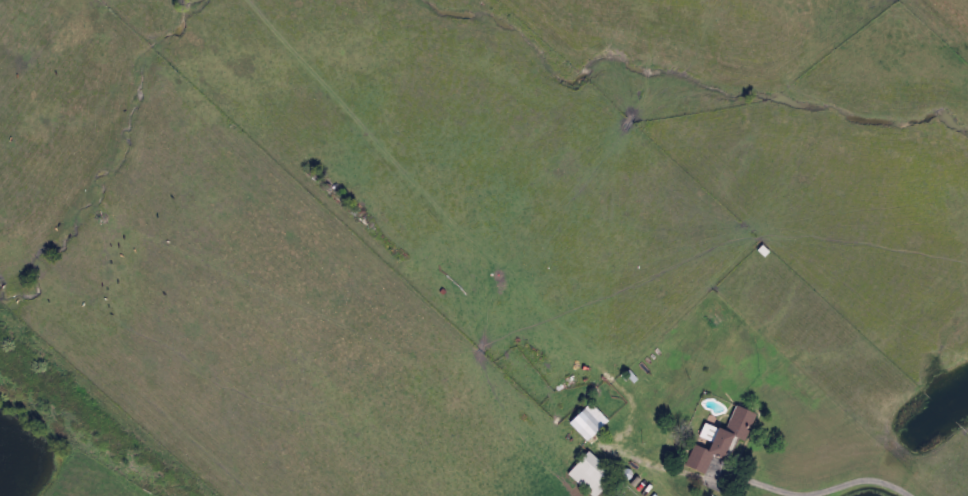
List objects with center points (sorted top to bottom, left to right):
building: (586, 421)
building: (717, 438)
building: (589, 474)
road: (820, 491)

